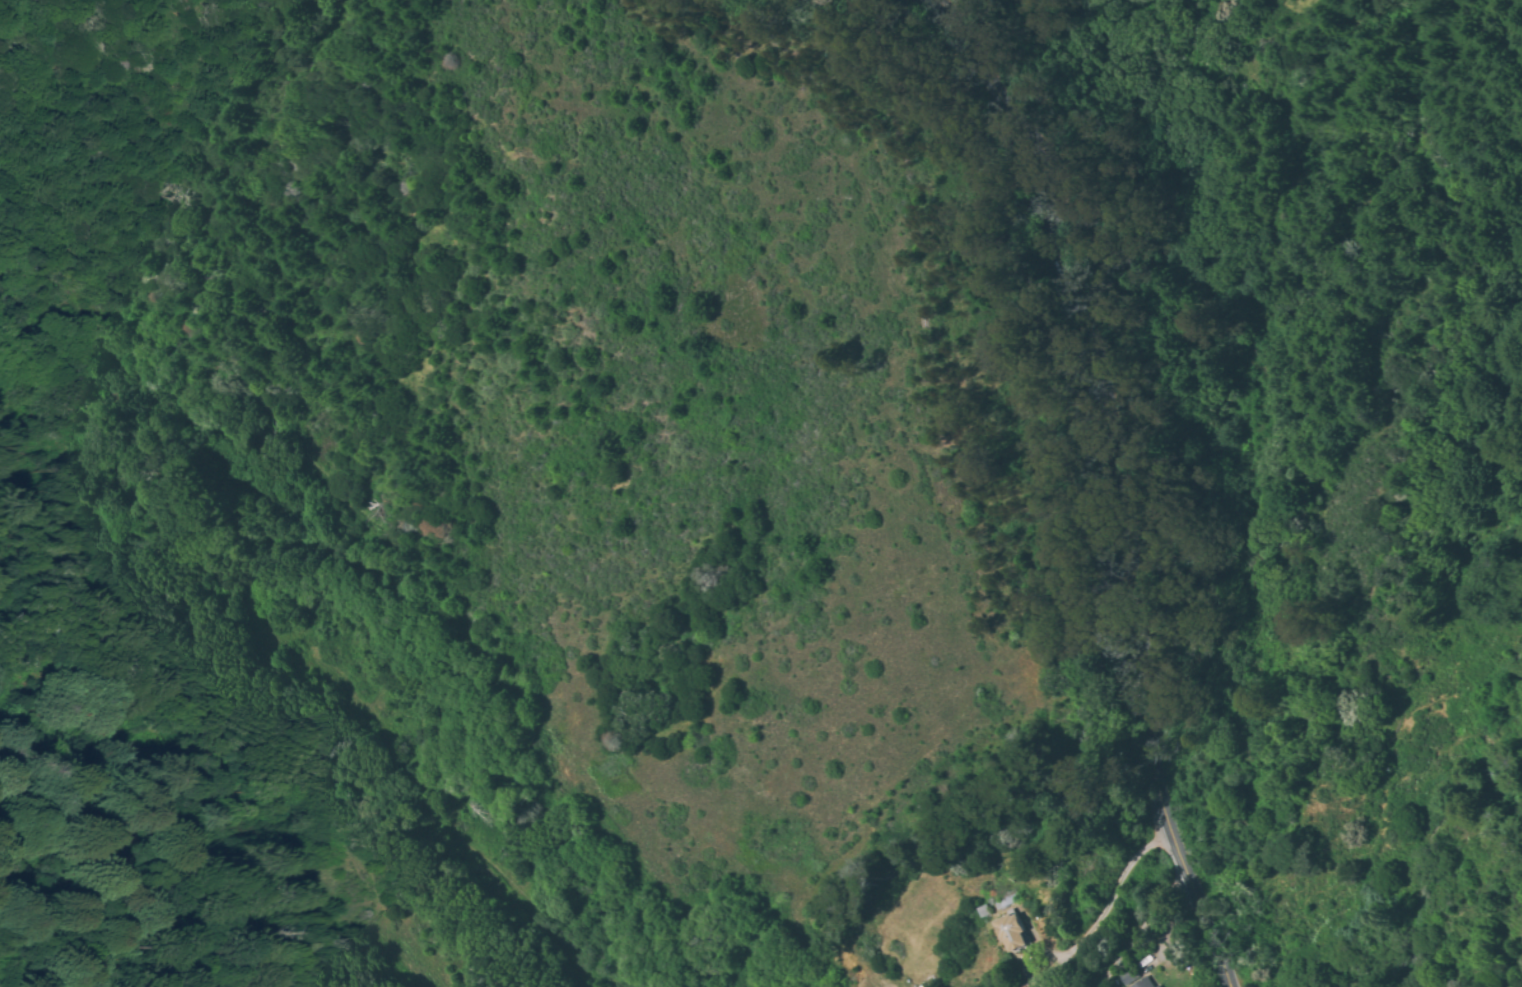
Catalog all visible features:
road: (1107, 467)
road: (372, 517)
road: (1056, 829)
building: (1016, 932)
building: (1139, 984)

